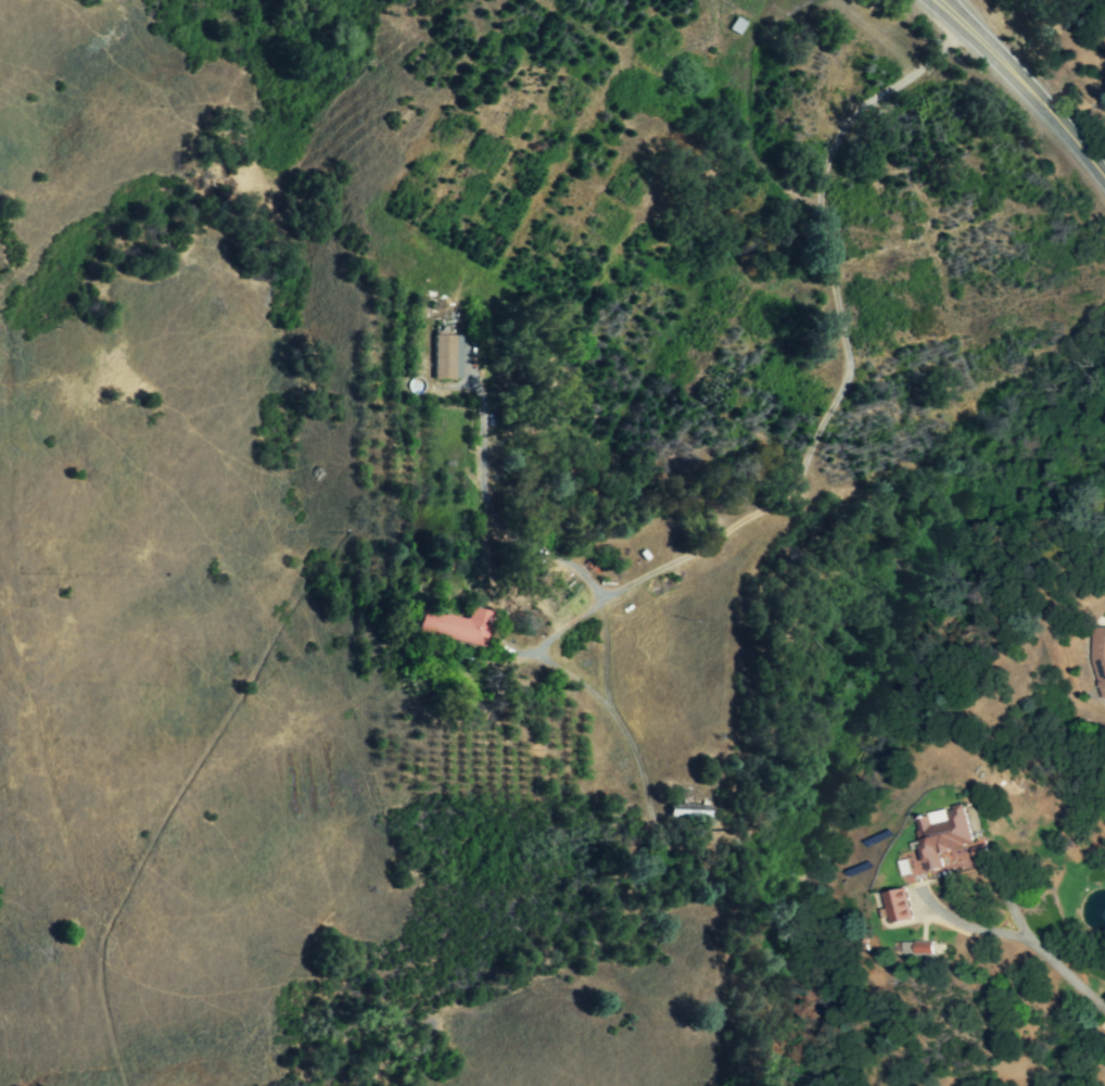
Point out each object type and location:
road: (950, 15)
building: (736, 26)
road: (1039, 102)
building: (446, 356)
road: (840, 383)
road: (486, 503)
building: (456, 626)
building: (1097, 657)
building: (688, 811)
building: (970, 818)
building: (940, 834)
building: (897, 905)
road: (1016, 936)
building: (916, 948)

